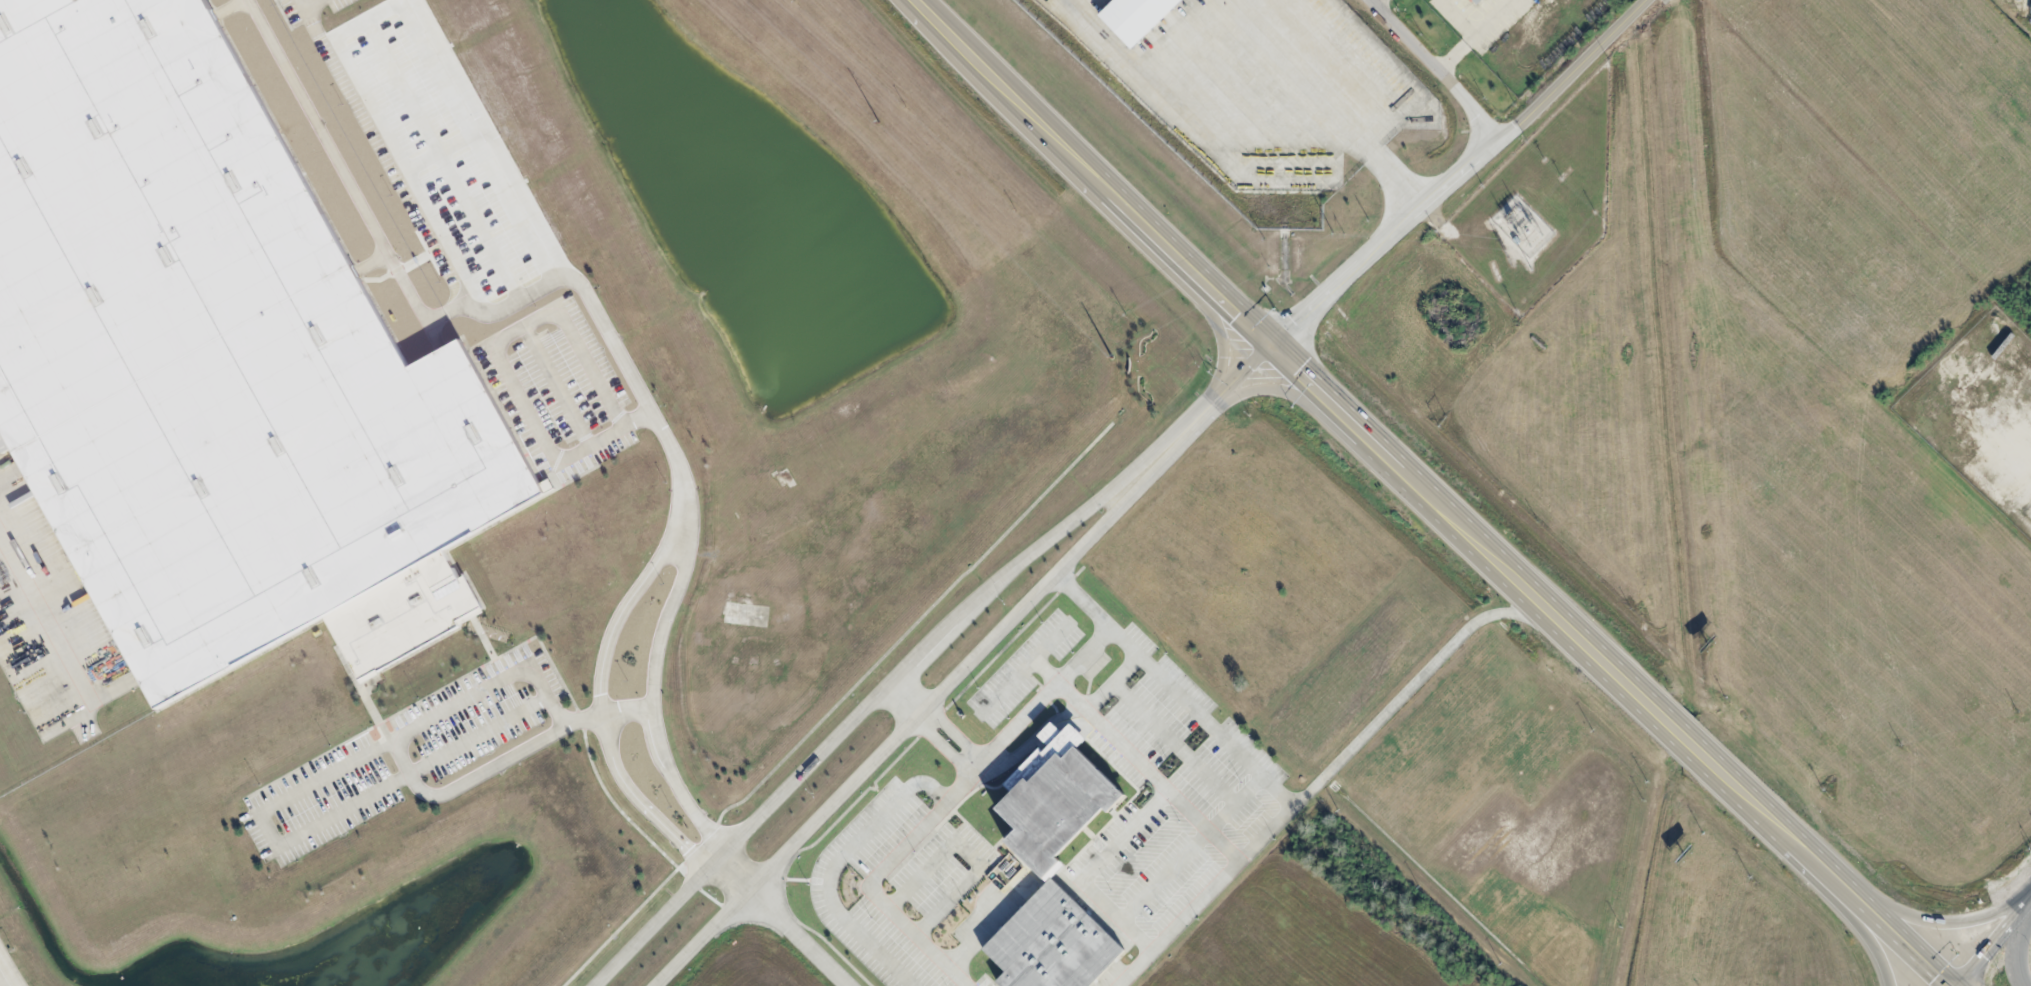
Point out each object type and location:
building: (1472, 1)
road: (919, 5)
building: (1134, 17)
road: (1432, 71)
road: (1010, 94)
power substation: (1522, 226)
road: (1382, 243)
power tower: (1508, 257)
road: (1181, 260)
traffic signals: (1265, 344)
building: (205, 353)
road: (641, 398)
road: (1607, 663)
road: (651, 715)
road: (598, 725)
road: (845, 726)
road: (892, 742)
road: (1325, 770)
building: (1056, 796)
road: (1945, 928)
road: (798, 938)
building: (1052, 942)
road: (1996, 943)
road: (1881, 947)
road: (2019, 948)
road: (4, 979)

